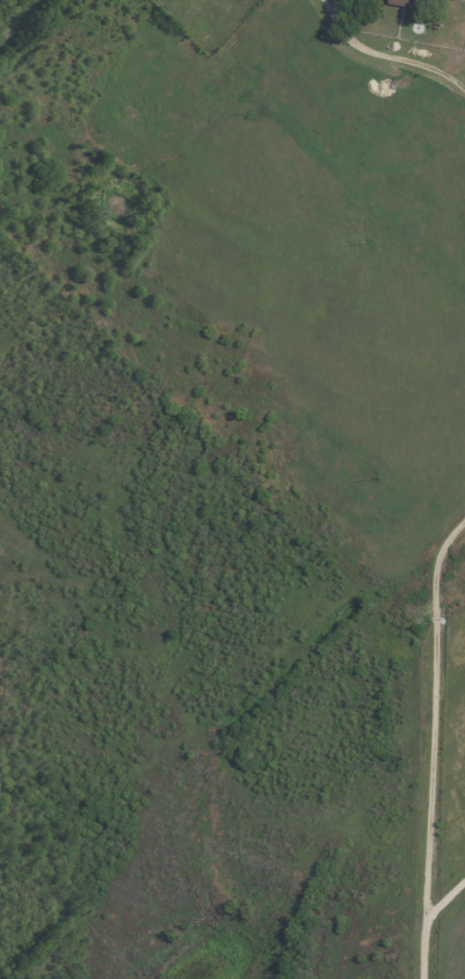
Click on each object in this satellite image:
building: (414, 2)
road: (384, 56)
road: (431, 746)
road: (445, 900)

